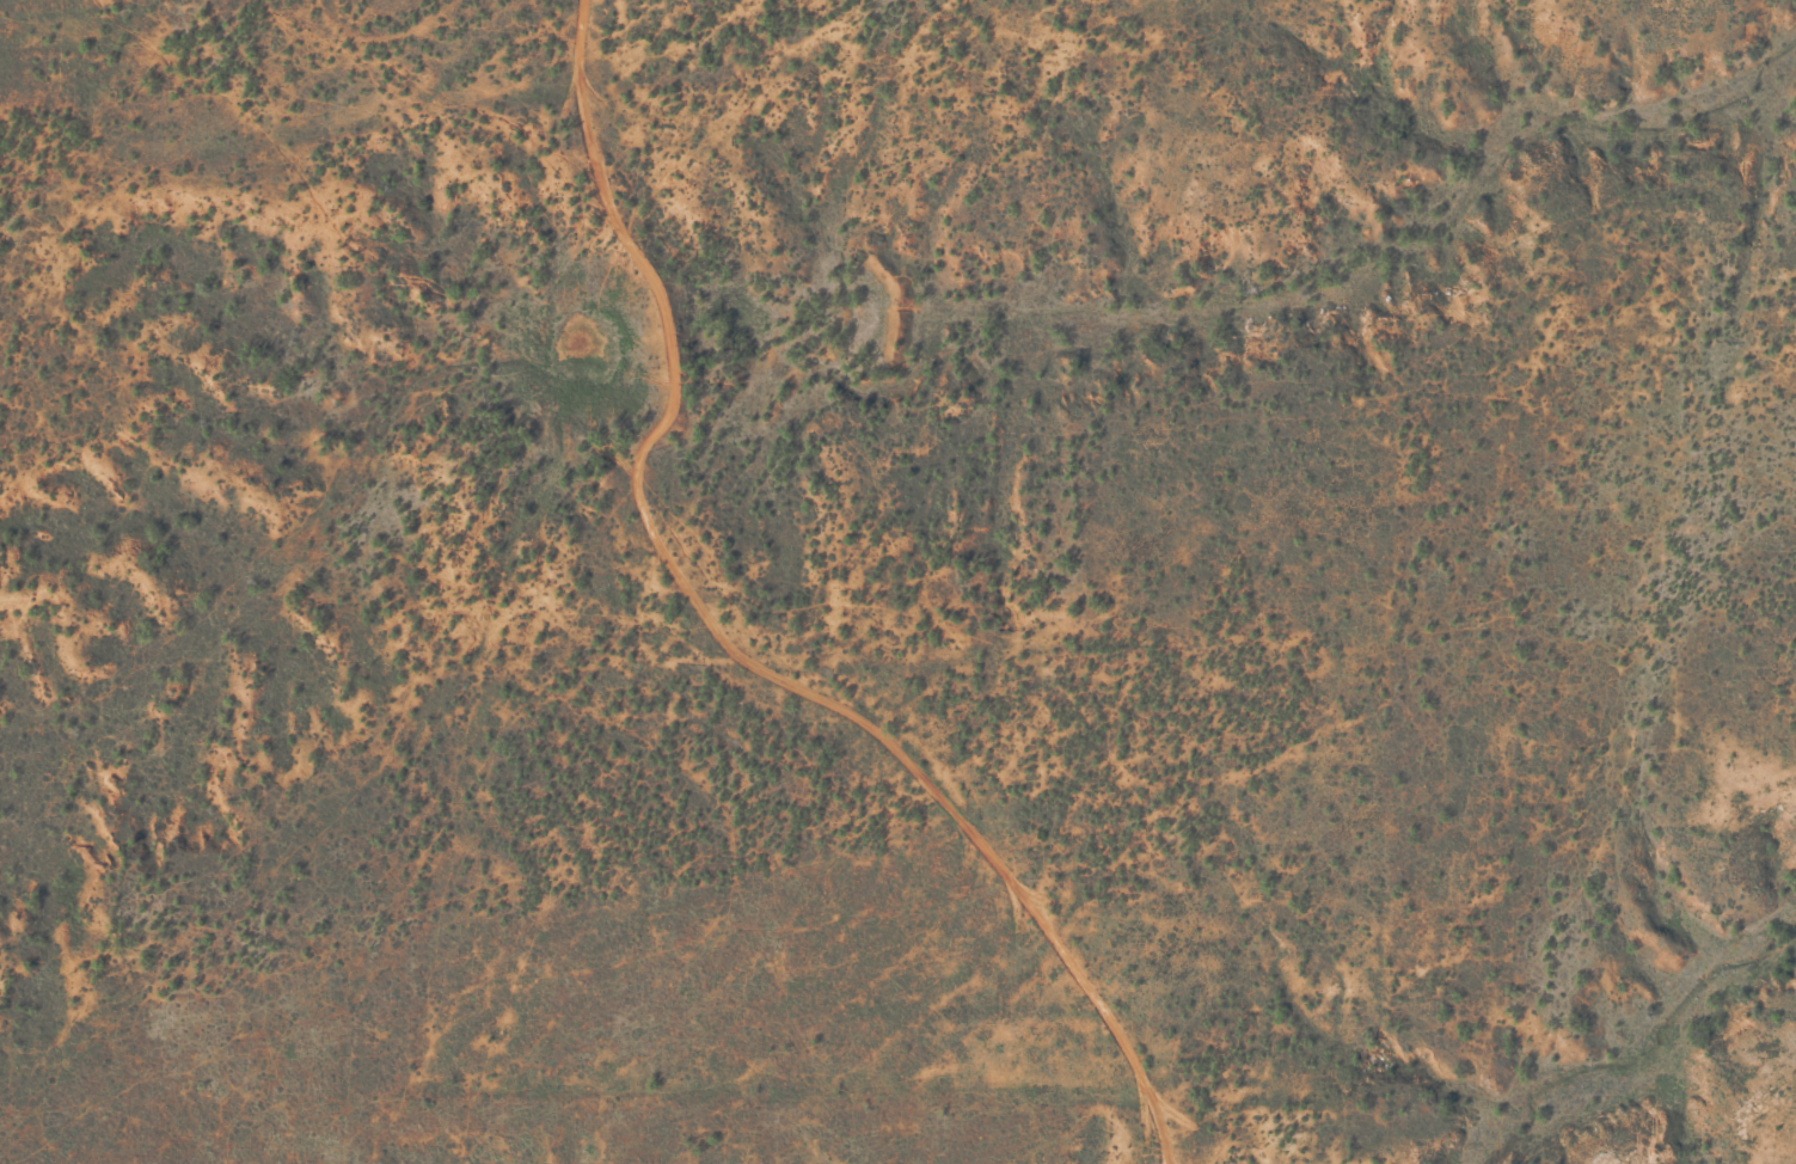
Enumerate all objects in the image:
road: (1220, 519)

